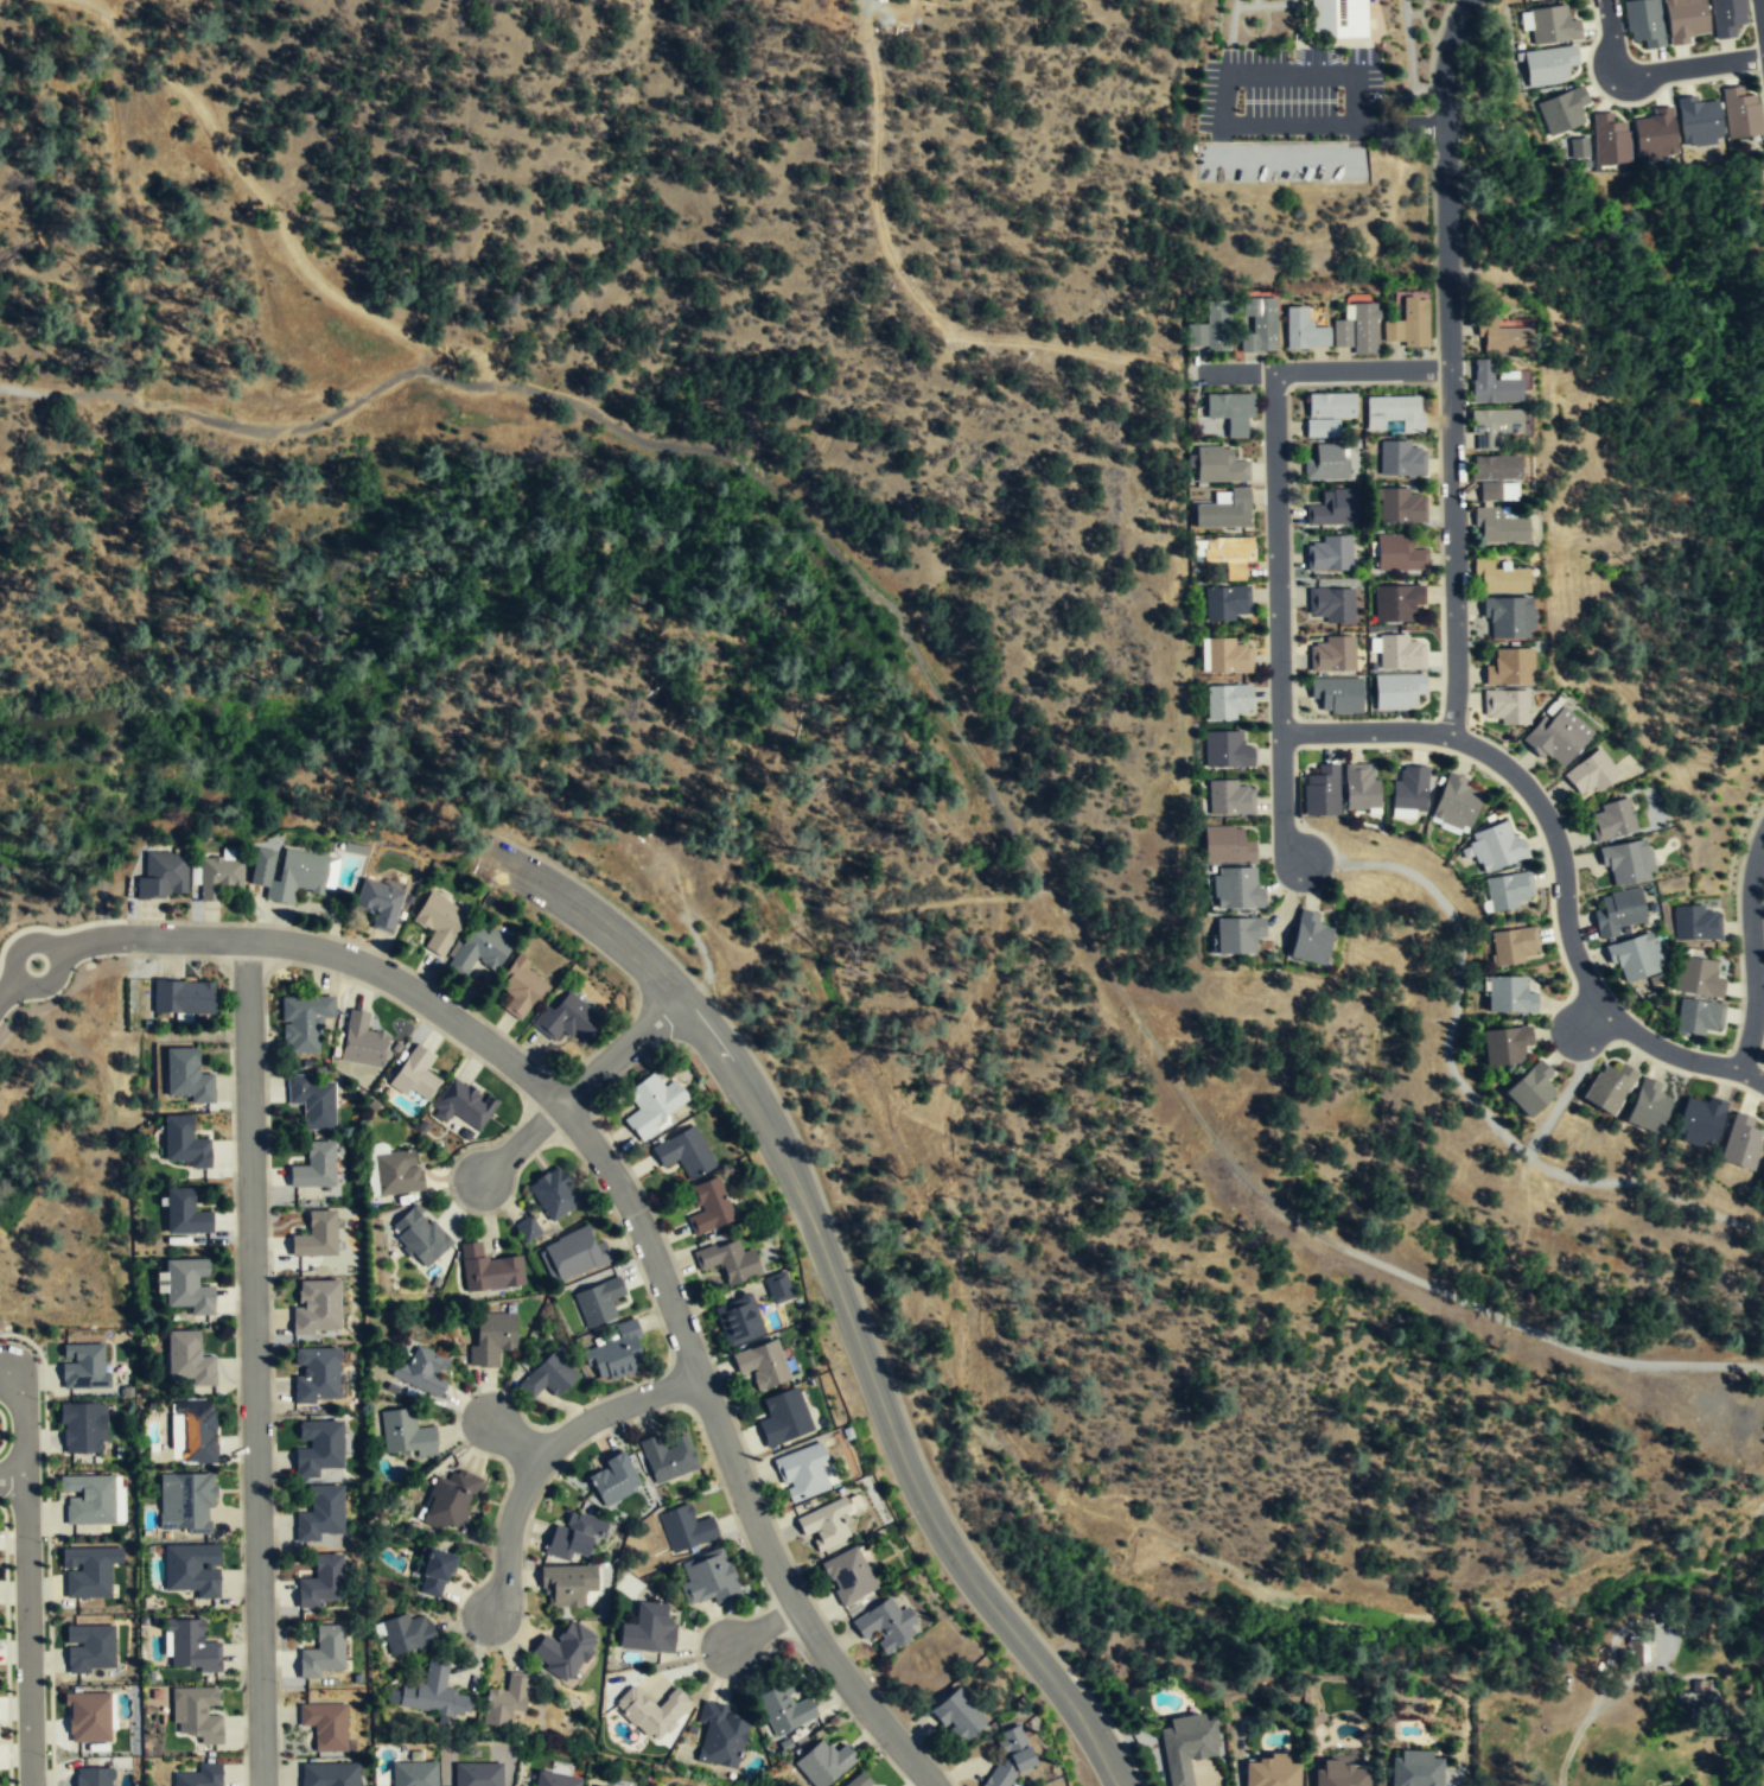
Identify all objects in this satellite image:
building: (1530, 0)
road: (1762, 11)
building: (1726, 15)
building: (1338, 18)
building: (1685, 19)
building: (1643, 21)
building: (1553, 24)
building: (1548, 64)
road: (1655, 71)
road: (1292, 74)
building: (1562, 109)
building: (1741, 113)
building: (1698, 120)
road: (1332, 125)
building: (1656, 134)
building: (1610, 139)
building: (1580, 150)
road: (475, 176)
road: (259, 190)
building: (1408, 325)
building: (1259, 326)
building: (1211, 330)
building: (1332, 330)
building: (1502, 339)
road: (489, 361)
road: (1448, 367)
road: (1325, 371)
building: (1494, 386)
building: (1230, 413)
building: (1327, 414)
building: (1394, 414)
building: (1494, 428)
road: (265, 431)
building: (1401, 459)
building: (1326, 464)
building: (1219, 466)
building: (1496, 477)
building: (1403, 507)
building: (1333, 510)
building: (1224, 511)
building: (1503, 528)
building: (1400, 554)
building: (1225, 555)
building: (1327, 555)
building: (1499, 579)
building: (1224, 604)
building: (1396, 604)
building: (1330, 606)
building: (1508, 618)
road: (1278, 622)
building: (1401, 654)
building: (1331, 656)
building: (1228, 657)
building: (1510, 668)
building: (1396, 694)
building: (1336, 697)
building: (1227, 703)
building: (1509, 706)
road: (1364, 730)
building: (1560, 737)
building: (1225, 751)
building: (1593, 773)
building: (1361, 789)
building: (1324, 790)
building: (1409, 792)
building: (1229, 800)
building: (1456, 803)
building: (1615, 819)
building: (1227, 846)
building: (1495, 846)
building: (1630, 860)
building: (217, 875)
building: (287, 875)
building: (163, 876)
building: (1235, 890)
building: (1509, 892)
building: (381, 905)
building: (1622, 910)
road: (854, 914)
building: (1699, 922)
building: (439, 923)
road: (1569, 927)
building: (1237, 936)
road: (114, 939)
building: (1310, 941)
road: (1091, 947)
building: (1515, 947)
building: (479, 951)
road: (1752, 952)
building: (1636, 956)
building: (1700, 977)
building: (518, 987)
road: (416, 993)
building: (1509, 996)
building: (183, 997)
building: (1701, 1015)
road: (1591, 1017)
building: (567, 1019)
building: (304, 1022)
building: (362, 1041)
building: (1503, 1048)
road: (620, 1051)
building: (415, 1074)
building: (187, 1075)
road: (1752, 1076)
road: (1464, 1087)
building: (1612, 1087)
building: (1529, 1092)
road: (1562, 1095)
building: (312, 1101)
building: (461, 1102)
building: (652, 1105)
building: (1650, 1106)
building: (1703, 1121)
road: (523, 1140)
building: (184, 1142)
building: (1744, 1142)
building: (684, 1152)
building: (313, 1168)
building: (397, 1174)
building: (554, 1193)
building: (1763, 1194)
building: (708, 1206)
building: (185, 1212)
building: (527, 1227)
building: (419, 1237)
building: (314, 1238)
building: (572, 1254)
building: (728, 1261)
building: (489, 1269)
building: (187, 1284)
building: (777, 1286)
road: (838, 1289)
building: (598, 1302)
building: (316, 1309)
building: (739, 1320)
building: (491, 1337)
building: (617, 1354)
building: (187, 1359)
road: (253, 1361)
building: (762, 1364)
building: (84, 1366)
building: (421, 1371)
building: (314, 1375)
building: (549, 1375)
building: (783, 1418)
building: (82, 1426)
building: (192, 1432)
building: (405, 1435)
road: (512, 1439)
building: (316, 1447)
road: (545, 1451)
building: (668, 1457)
road: (728, 1457)
building: (802, 1475)
road: (11, 1477)
building: (612, 1479)
building: (88, 1500)
building: (452, 1500)
building: (185, 1502)
building: (319, 1514)
building: (824, 1525)
building: (684, 1528)
building: (574, 1536)
building: (190, 1568)
building: (87, 1571)
building: (434, 1574)
road: (25, 1577)
building: (707, 1577)
building: (848, 1577)
building: (323, 1583)
building: (568, 1584)
building: (885, 1625)
building: (648, 1628)
road: (758, 1629)
building: (407, 1633)
building: (190, 1646)
building: (88, 1648)
building: (563, 1651)
building: (323, 1653)
building: (432, 1695)
building: (1696, 1695)
building: (505, 1701)
building: (784, 1710)
building: (651, 1711)
building: (197, 1712)
building: (957, 1716)
building: (88, 1717)
building: (324, 1727)
building: (720, 1736)
building: (1186, 1746)
building: (1011, 1760)
building: (824, 1763)
building: (1415, 1769)
building: (1269, 1772)
building: (330, 1774)
building: (413, 1774)
building: (477, 1774)
building: (199, 1775)
building: (1339, 1775)
building: (93, 1777)
building: (554, 1780)
building: (858, 1781)

